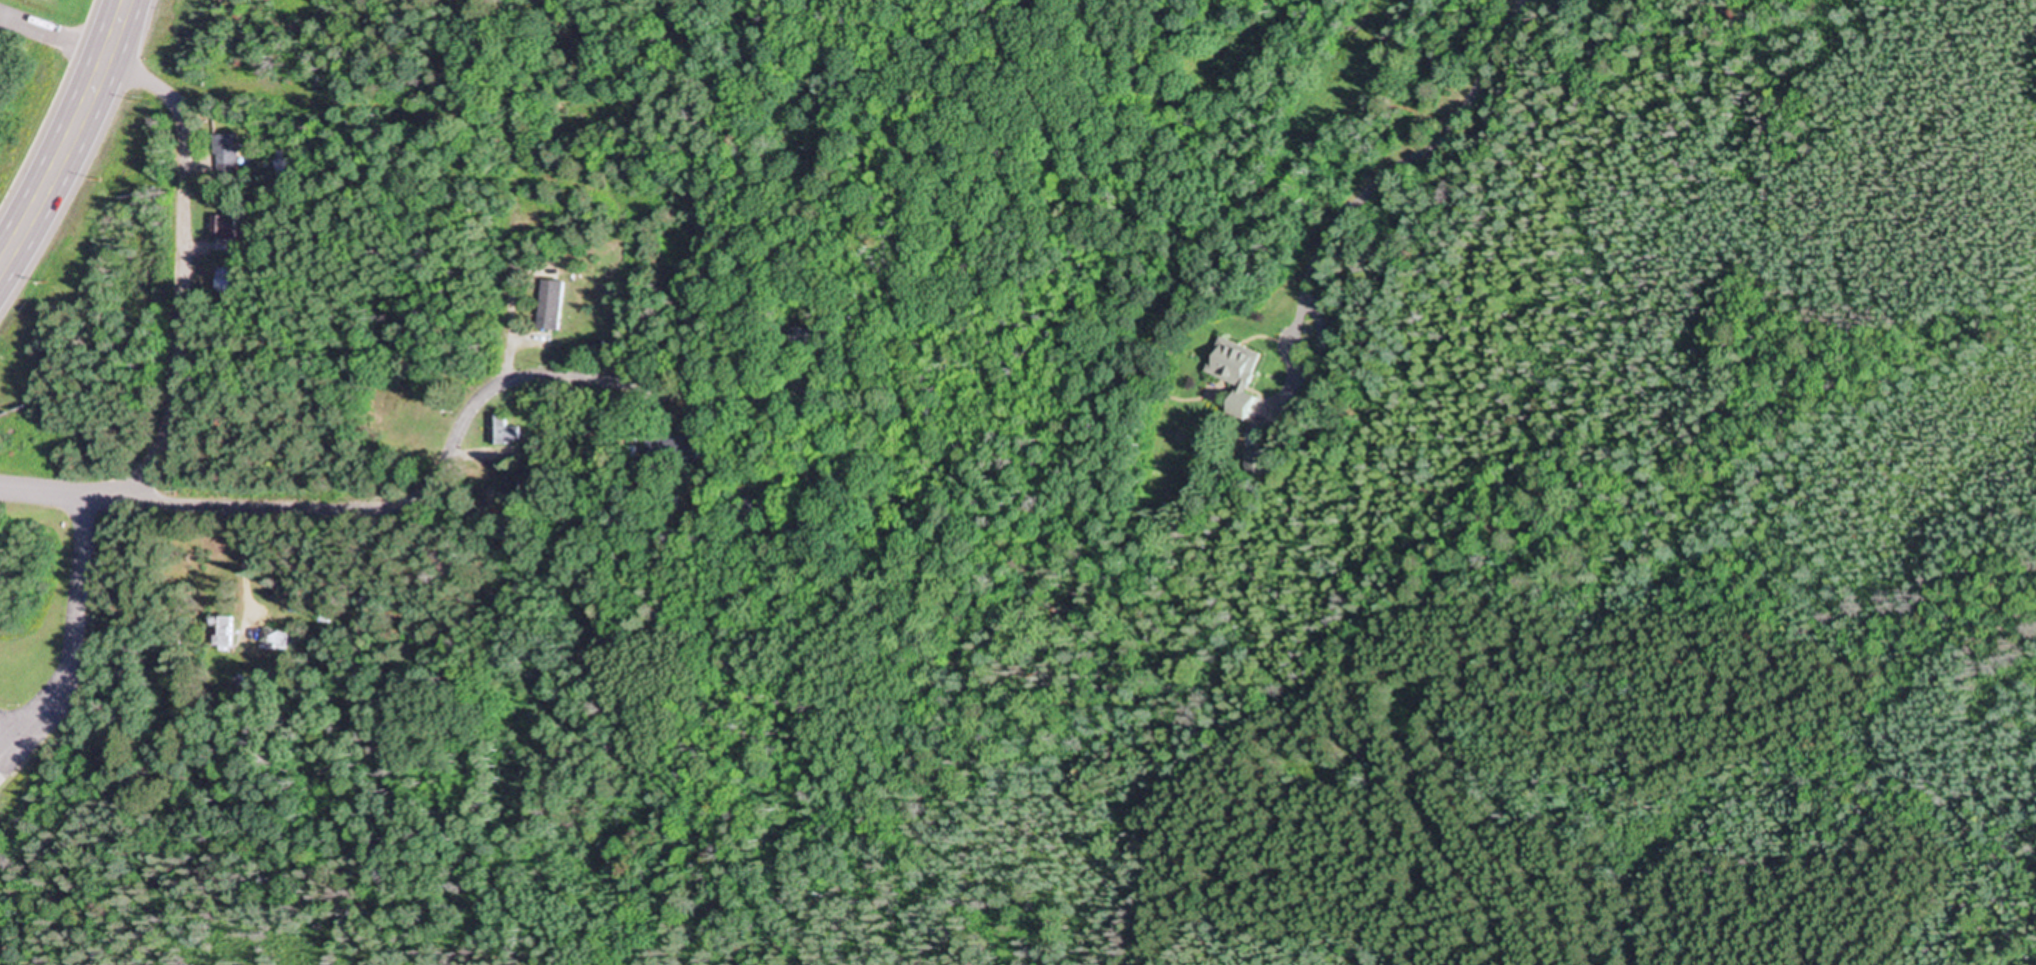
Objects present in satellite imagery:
road: (77, 48)
road: (71, 137)
building: (224, 154)
building: (220, 228)
building: (222, 282)
road: (180, 296)
building: (547, 307)
building: (591, 348)
building: (1232, 378)
building: (500, 433)
building: (683, 448)
building: (505, 493)
road: (416, 502)
building: (763, 509)
building: (219, 633)
building: (272, 641)
road: (1446, 802)

